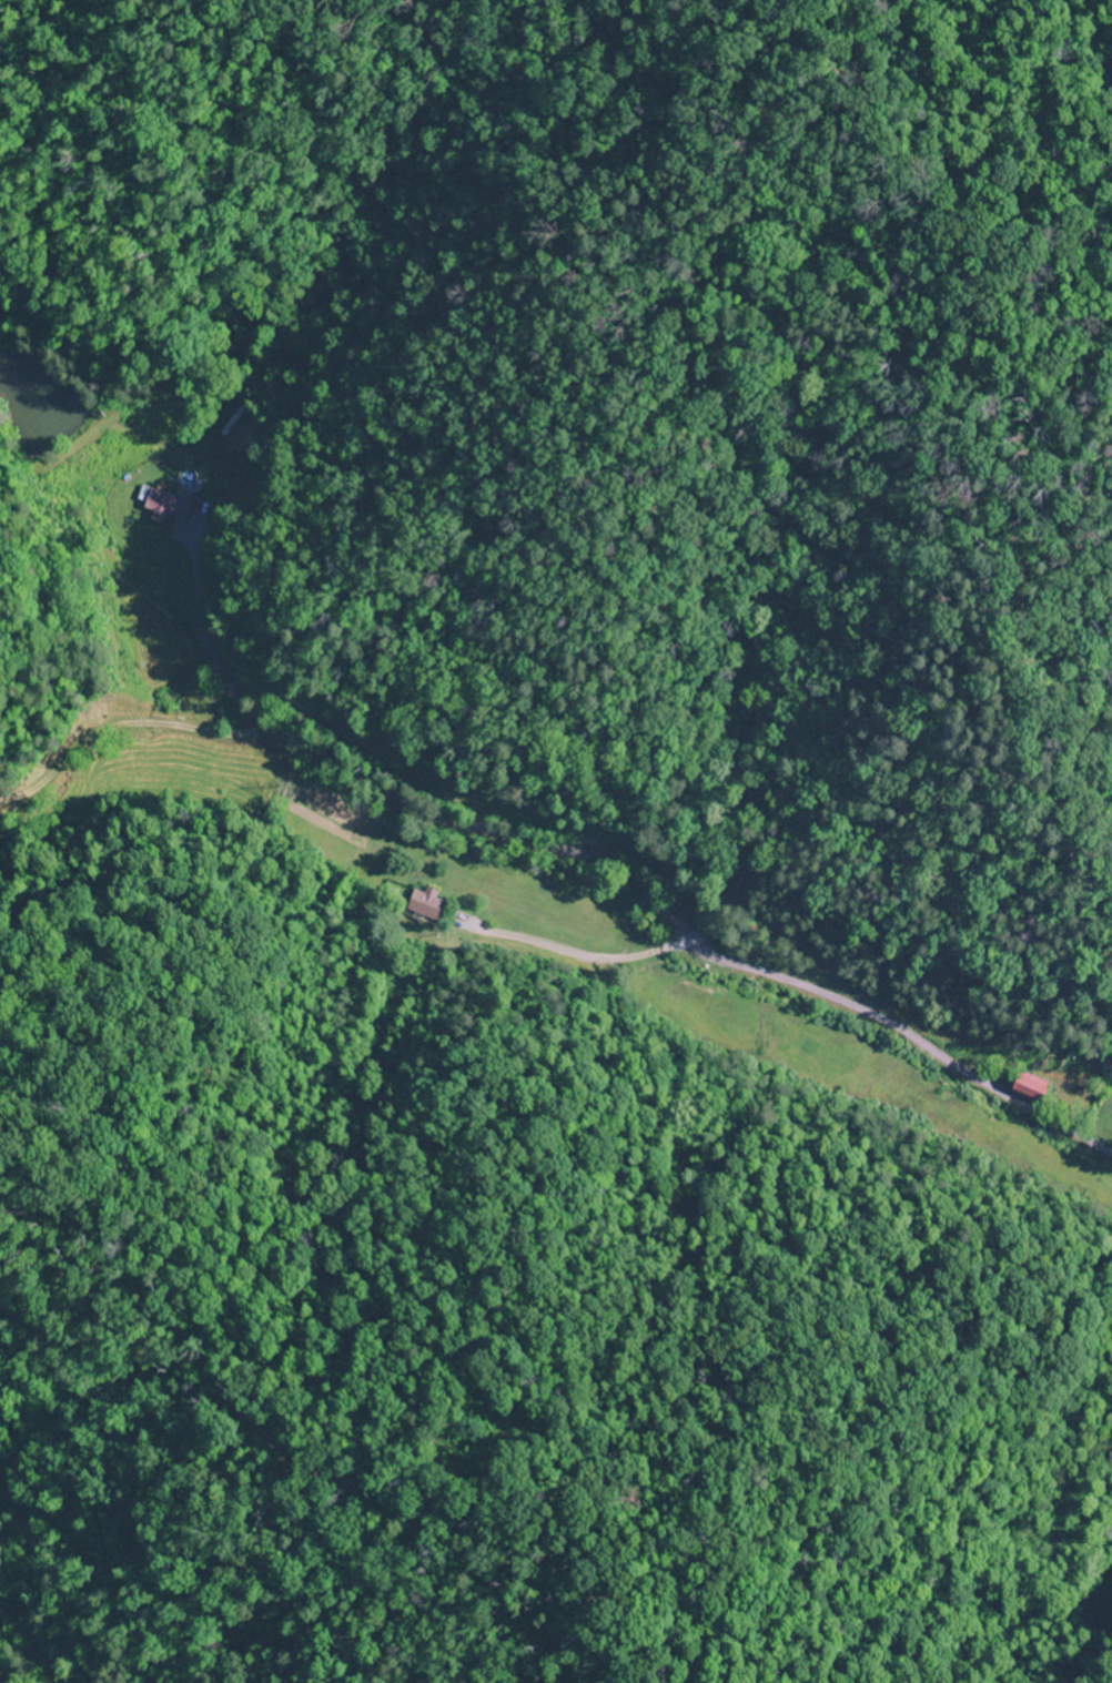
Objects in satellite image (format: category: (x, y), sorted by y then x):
building: (164, 506)
road: (685, 931)

